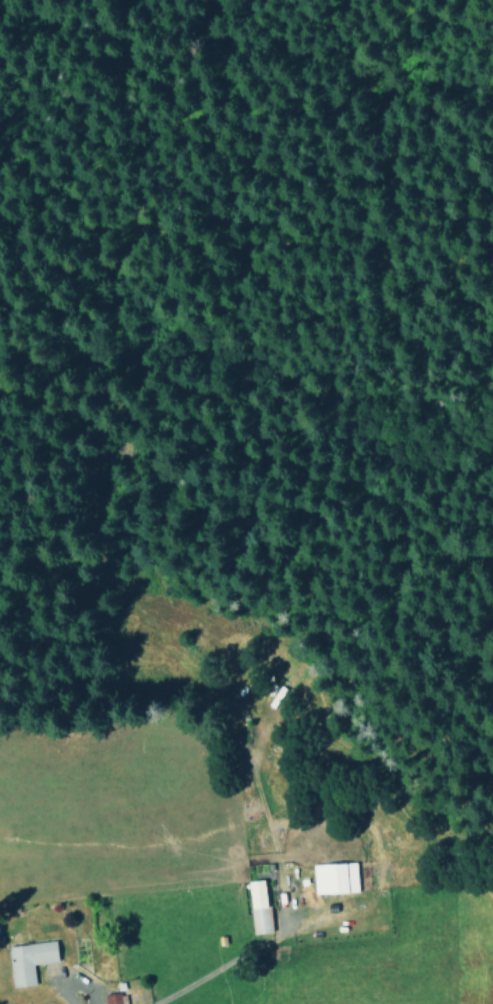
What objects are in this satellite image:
building: (334, 877)
building: (258, 906)
building: (28, 960)
road: (68, 977)
building: (114, 998)

